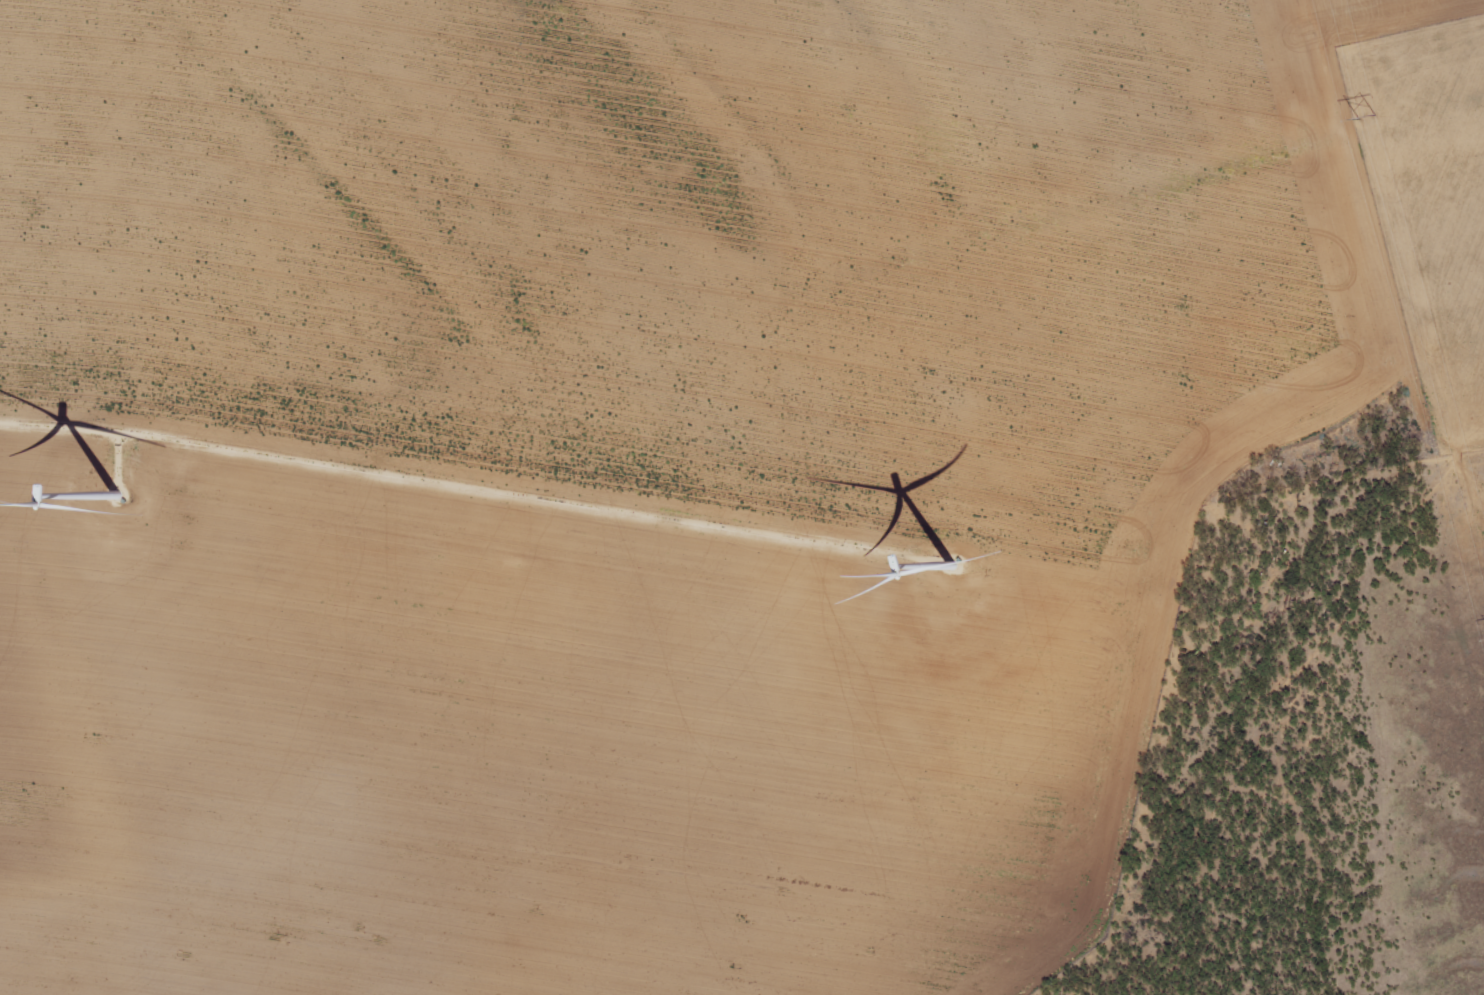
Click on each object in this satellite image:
road: (1296, 69)
power tower: (1365, 117)
road: (858, 264)
wind turbine: (116, 496)
road: (102, 558)
wind turbine: (953, 565)
road: (1219, 690)

